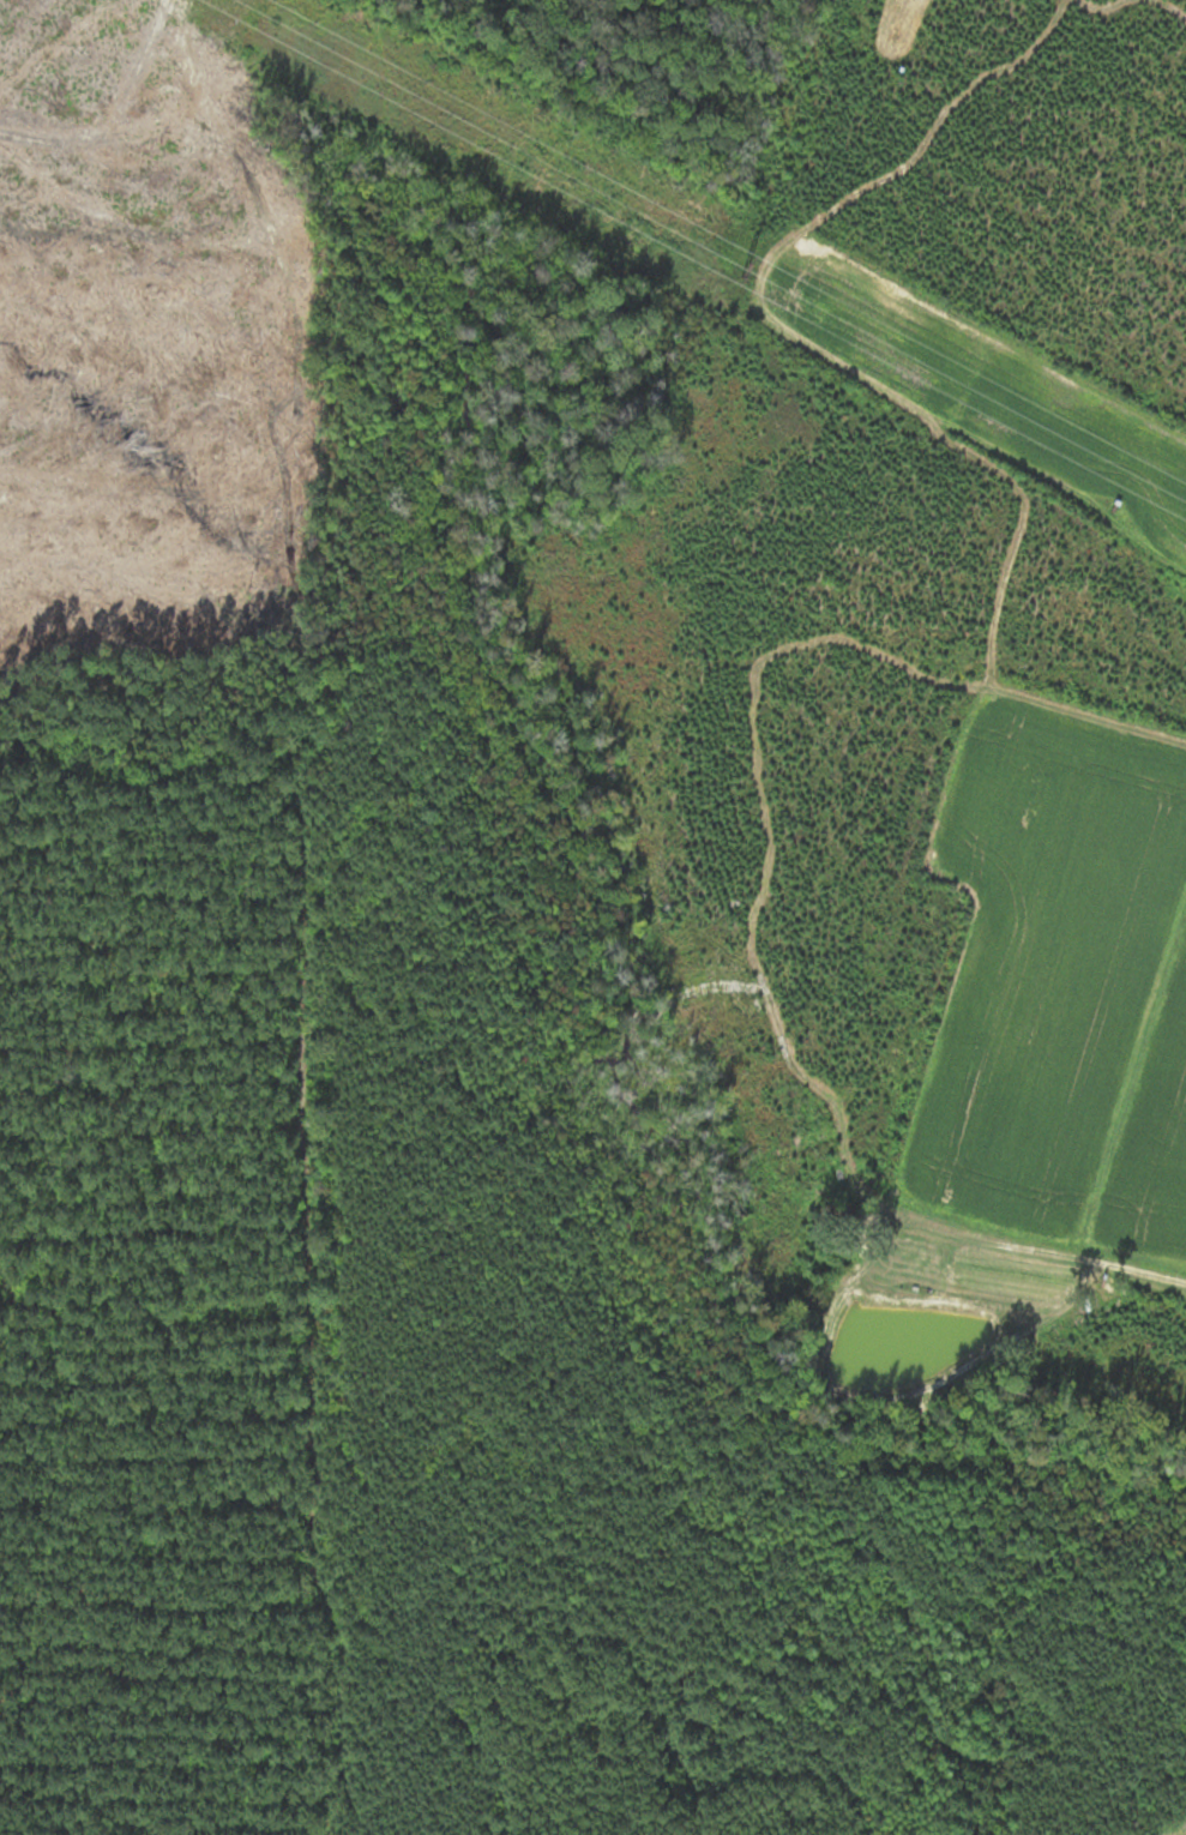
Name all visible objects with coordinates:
power tower: (747, 272)

